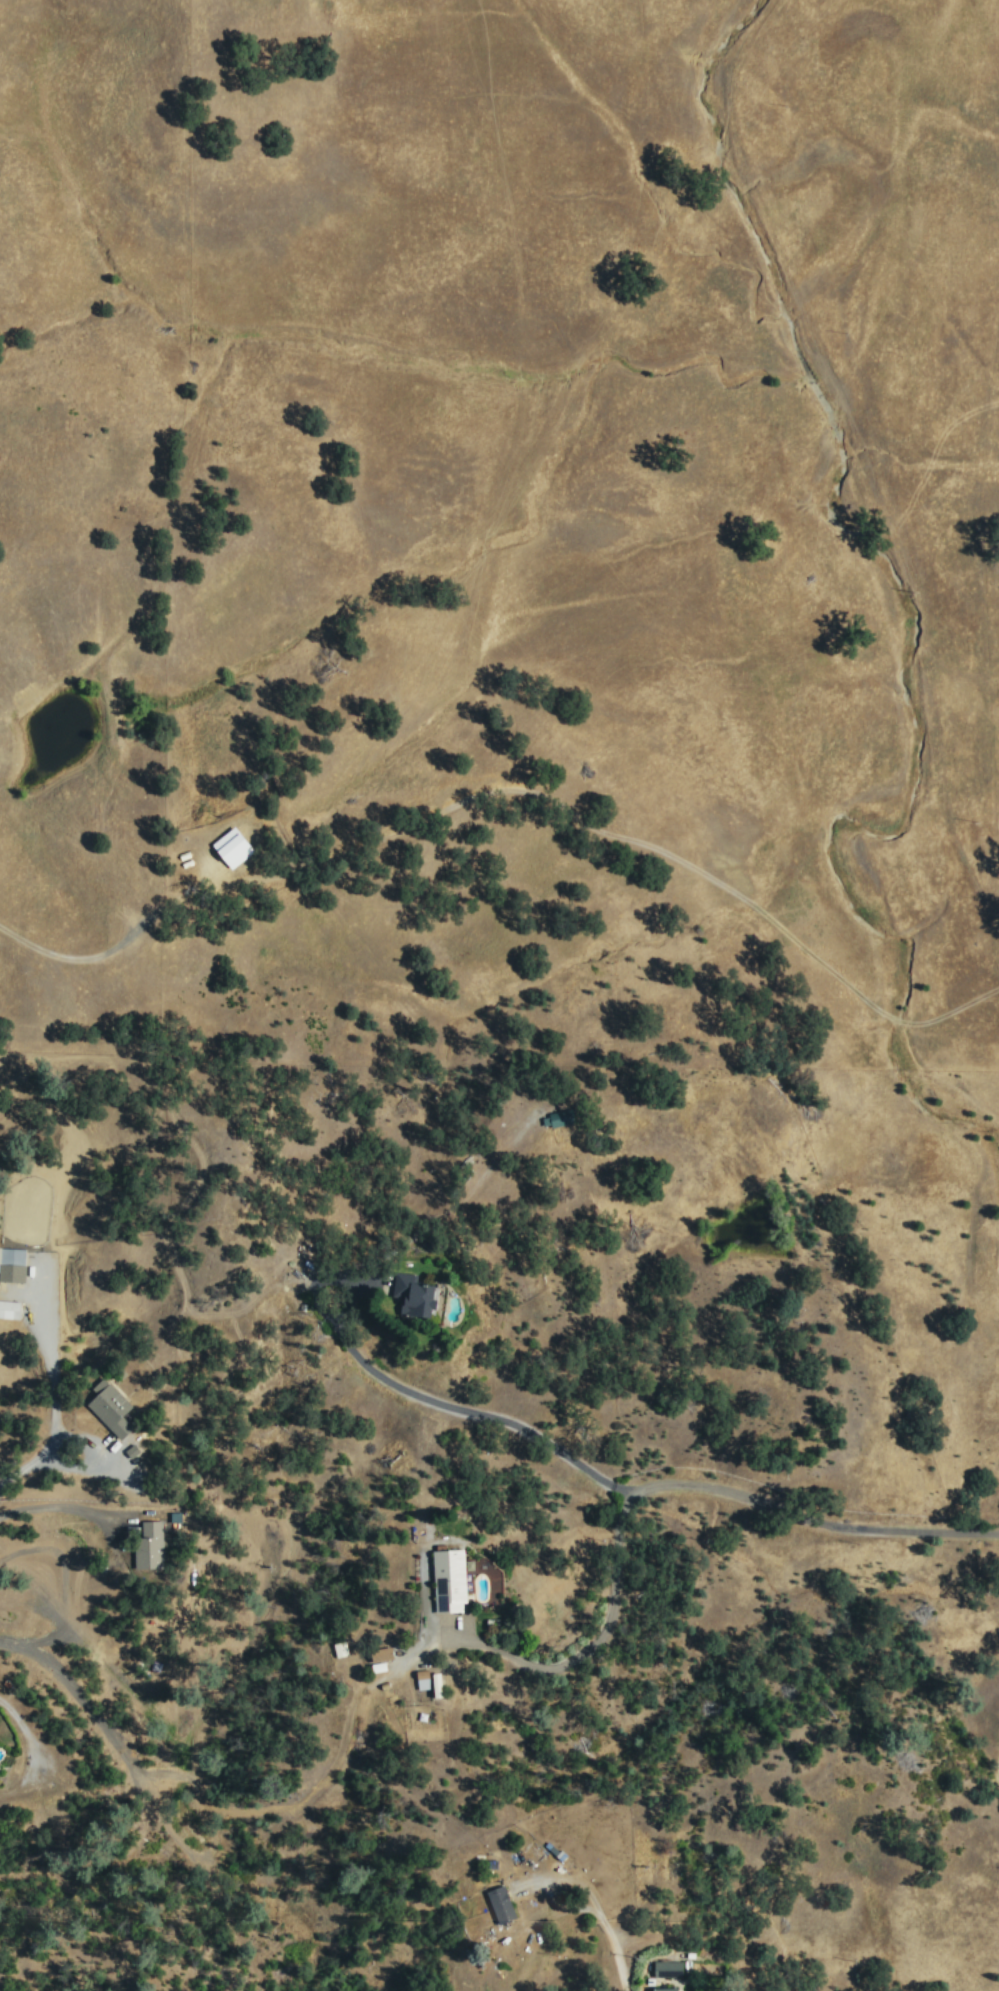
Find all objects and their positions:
building: (236, 846)
building: (560, 1117)
building: (13, 1263)
building: (422, 1294)
building: (11, 1308)
building: (113, 1407)
road: (654, 1491)
building: (151, 1545)
building: (453, 1578)
road: (602, 1614)
building: (340, 1648)
building: (383, 1653)
building: (425, 1678)
building: (440, 1684)
road: (153, 1799)
building: (503, 1904)
road: (599, 1919)
building: (669, 1967)
building: (668, 1989)

